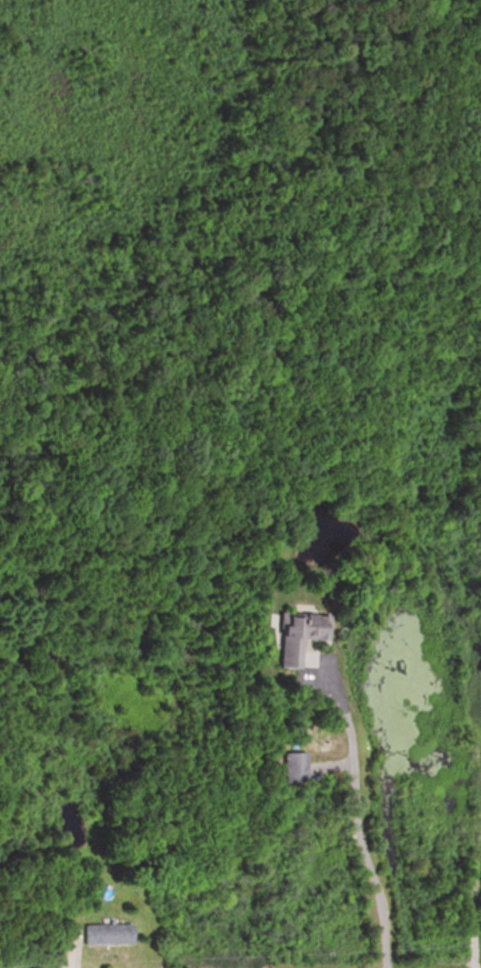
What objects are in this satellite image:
building: (296, 635)
building: (293, 766)
road: (358, 820)
building: (106, 934)

